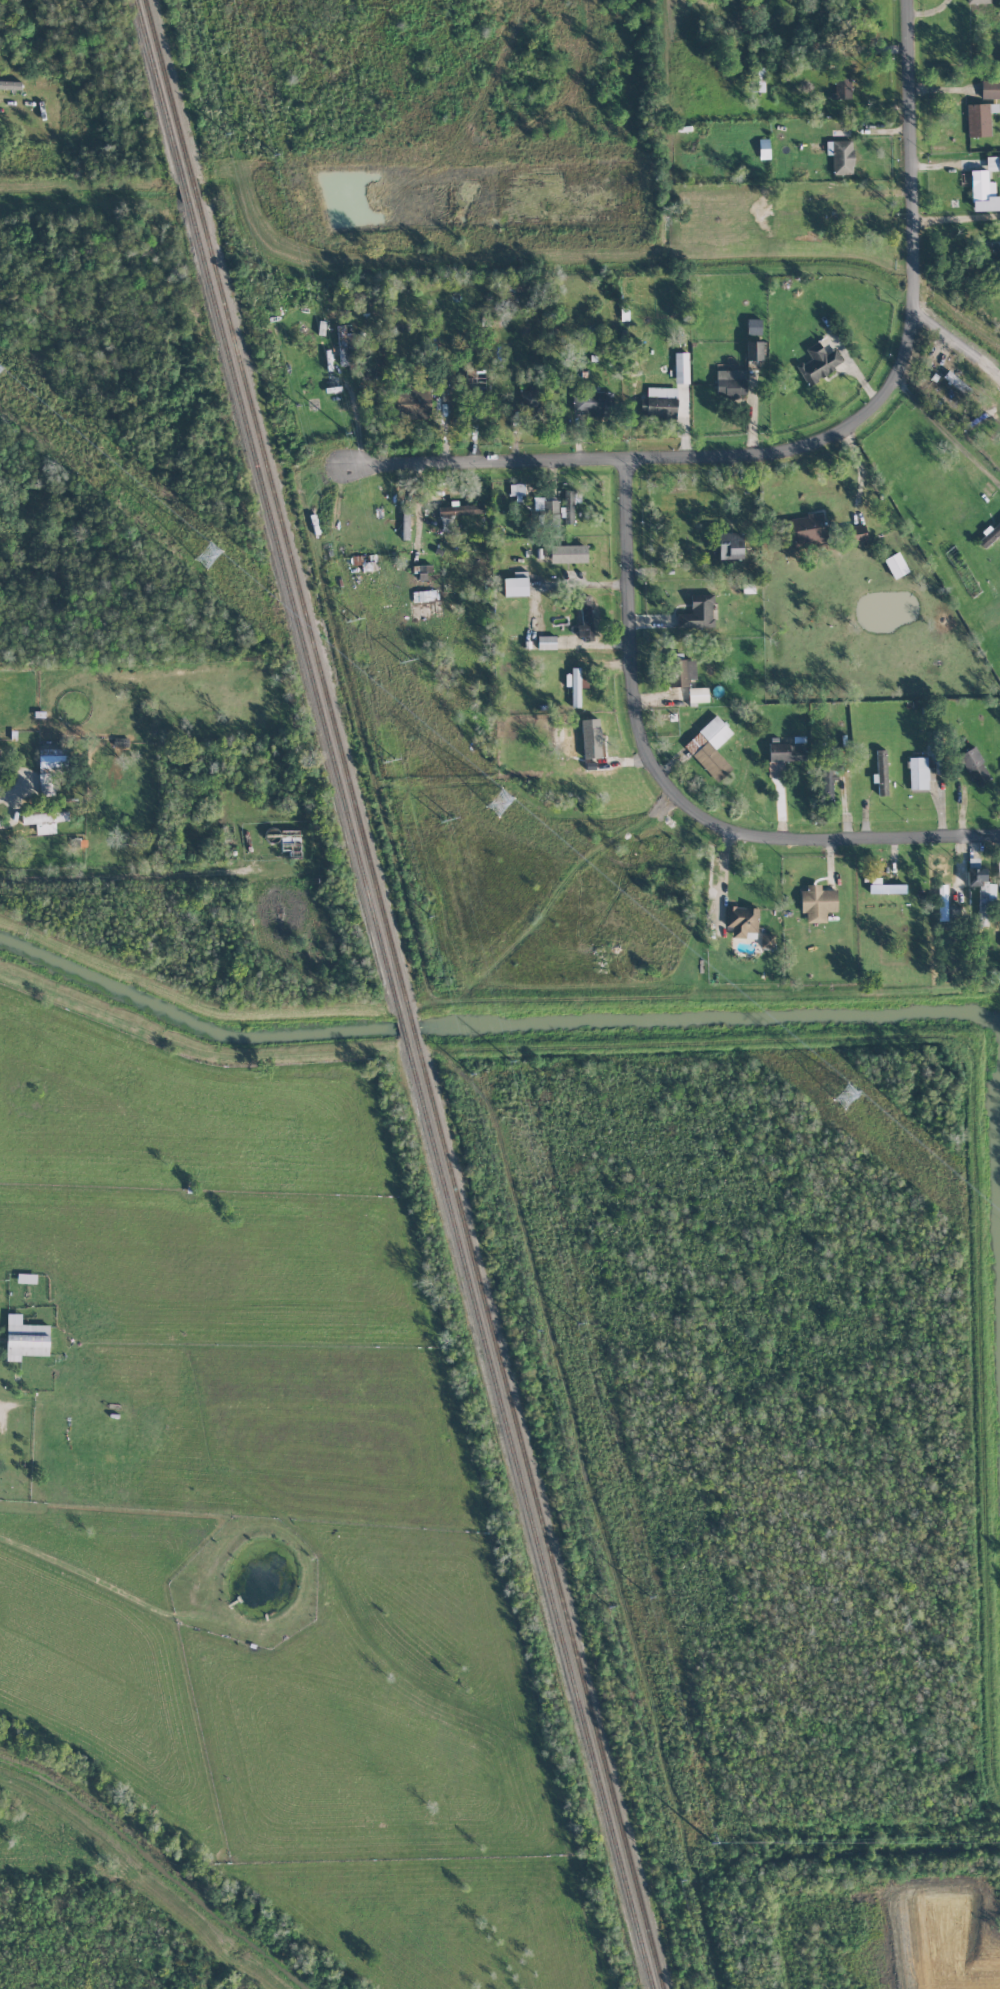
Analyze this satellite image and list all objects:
building: (977, 1)
road: (933, 15)
building: (757, 80)
building: (10, 85)
building: (841, 88)
building: (990, 89)
power tower: (221, 113)
building: (979, 119)
power tower: (270, 135)
building: (764, 148)
building: (841, 156)
building: (993, 163)
building: (983, 192)
road: (958, 222)
building: (993, 251)
building: (753, 326)
road: (959, 345)
building: (346, 347)
building: (754, 351)
power tower: (285, 357)
building: (819, 363)
building: (681, 367)
building: (731, 382)
building: (957, 383)
building: (530, 400)
building: (661, 402)
building: (412, 403)
building: (590, 403)
power tower: (343, 418)
road: (948, 435)
road: (823, 438)
road: (857, 467)
building: (569, 505)
building: (550, 506)
railway: (267, 509)
railway: (276, 509)
building: (808, 530)
building: (856, 533)
building: (990, 535)
building: (730, 545)
building: (568, 554)
power tower: (218, 564)
building: (895, 565)
road: (568, 582)
building: (515, 586)
power tower: (348, 601)
building: (698, 613)
building: (585, 619)
building: (546, 642)
power tower: (405, 656)
building: (680, 672)
building: (575, 687)
building: (698, 694)
building: (591, 738)
building: (710, 747)
building: (785, 752)
building: (974, 766)
building: (49, 769)
building: (881, 773)
building: (919, 773)
power tower: (394, 776)
building: (827, 785)
power tower: (483, 788)
road: (677, 790)
building: (44, 821)
power tower: (449, 827)
road: (722, 874)
building: (887, 888)
building: (981, 890)
building: (817, 902)
building: (741, 920)
power tower: (661, 939)
building: (767, 940)
railway: (413, 1028)
railway: (403, 1029)
power tower: (466, 1057)
power tower: (515, 1079)
power tower: (924, 1162)
power tower: (535, 1322)
power tower: (581, 1334)
building: (25, 1338)
railway: (529, 1514)
railway: (538, 1514)
power tower: (647, 1590)
power tower: (607, 1598)
power tower: (996, 1840)
power tower: (715, 1849)
power tower: (679, 1875)

